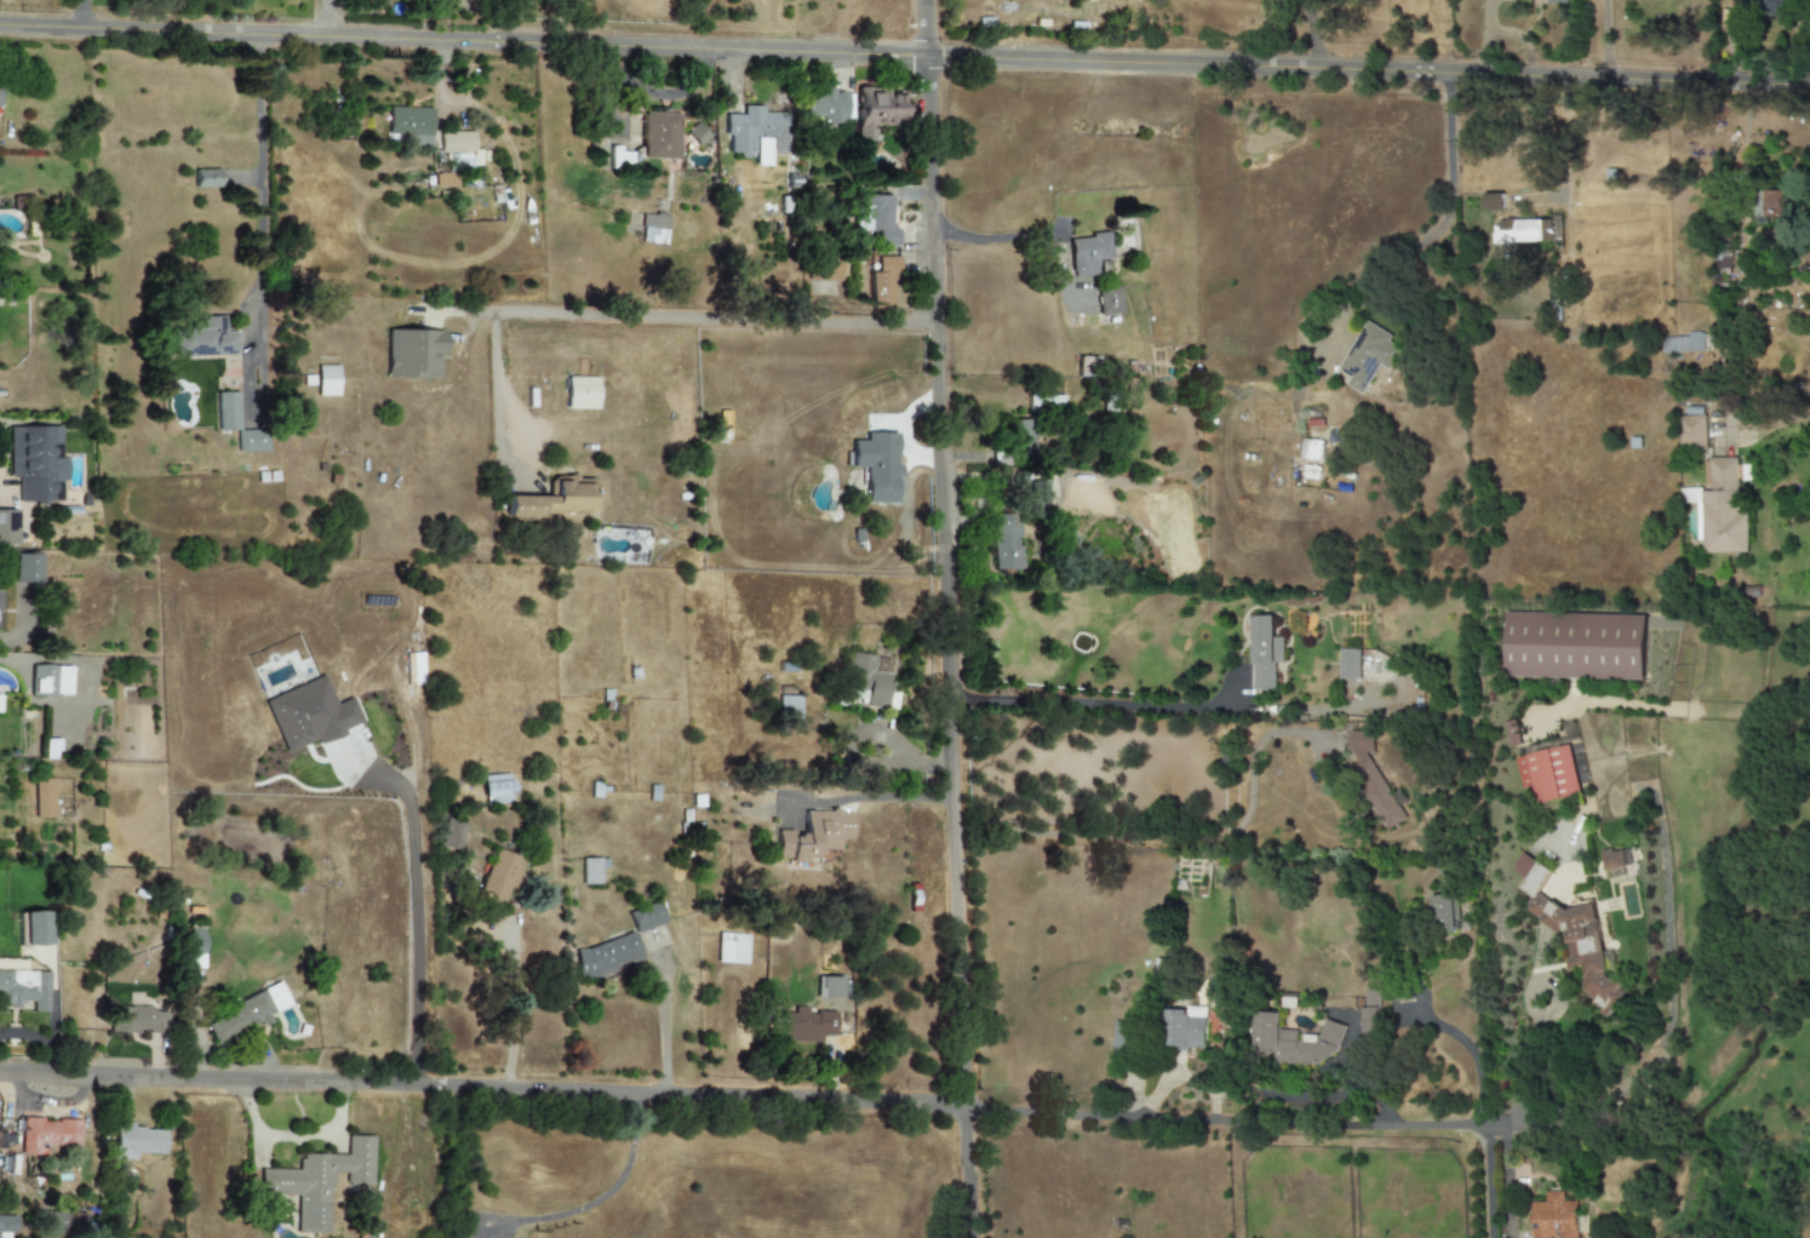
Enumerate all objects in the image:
building: (1556, 1)
building: (1766, 7)
road: (80, 16)
road: (323, 19)
road: (560, 22)
road: (1308, 35)
road: (1603, 39)
road: (904, 56)
building: (826, 107)
building: (877, 111)
building: (409, 125)
road: (1745, 131)
building: (756, 134)
building: (659, 136)
building: (457, 142)
road: (260, 176)
building: (206, 178)
road: (1449, 183)
building: (1494, 202)
building: (1775, 204)
building: (876, 217)
building: (653, 229)
building: (1525, 231)
road: (992, 237)
building: (1087, 254)
building: (1722, 259)
building: (883, 283)
building: (1107, 300)
road: (630, 313)
building: (204, 339)
building: (1683, 343)
building: (412, 354)
building: (1369, 356)
building: (326, 380)
building: (580, 392)
building: (1043, 403)
building: (227, 412)
building: (1691, 432)
building: (251, 441)
building: (1014, 443)
building: (1311, 449)
building: (36, 463)
building: (876, 465)
building: (1036, 498)
building: (555, 499)
building: (1718, 510)
building: (7, 528)
building: (1001, 543)
building: (25, 569)
road: (944, 618)
building: (1575, 646)
building: (1265, 652)
building: (1348, 664)
building: (50, 680)
building: (865, 681)
road: (1132, 707)
building: (789, 710)
building: (309, 715)
building: (50, 750)
building: (1547, 774)
building: (1373, 779)
building: (496, 789)
road: (866, 792)
building: (44, 798)
building: (449, 835)
building: (812, 835)
road: (1179, 837)
building: (1613, 859)
building: (590, 872)
building: (1528, 875)
building: (498, 876)
building: (1447, 915)
building: (646, 917)
road: (416, 925)
building: (35, 928)
building: (1580, 946)
building: (732, 948)
building: (606, 957)
building: (829, 987)
building: (24, 990)
building: (245, 1014)
building: (1374, 1015)
building: (137, 1020)
building: (807, 1026)
building: (1185, 1027)
road: (660, 1031)
road: (1460, 1041)
building: (1301, 1042)
road: (1531, 1062)
road: (780, 1099)
road: (1685, 1128)
building: (47, 1135)
road: (292, 1135)
building: (137, 1141)
road: (1485, 1180)
building: (319, 1182)
road: (598, 1202)
building: (1556, 1217)
building: (64, 1223)
building: (5, 1226)

